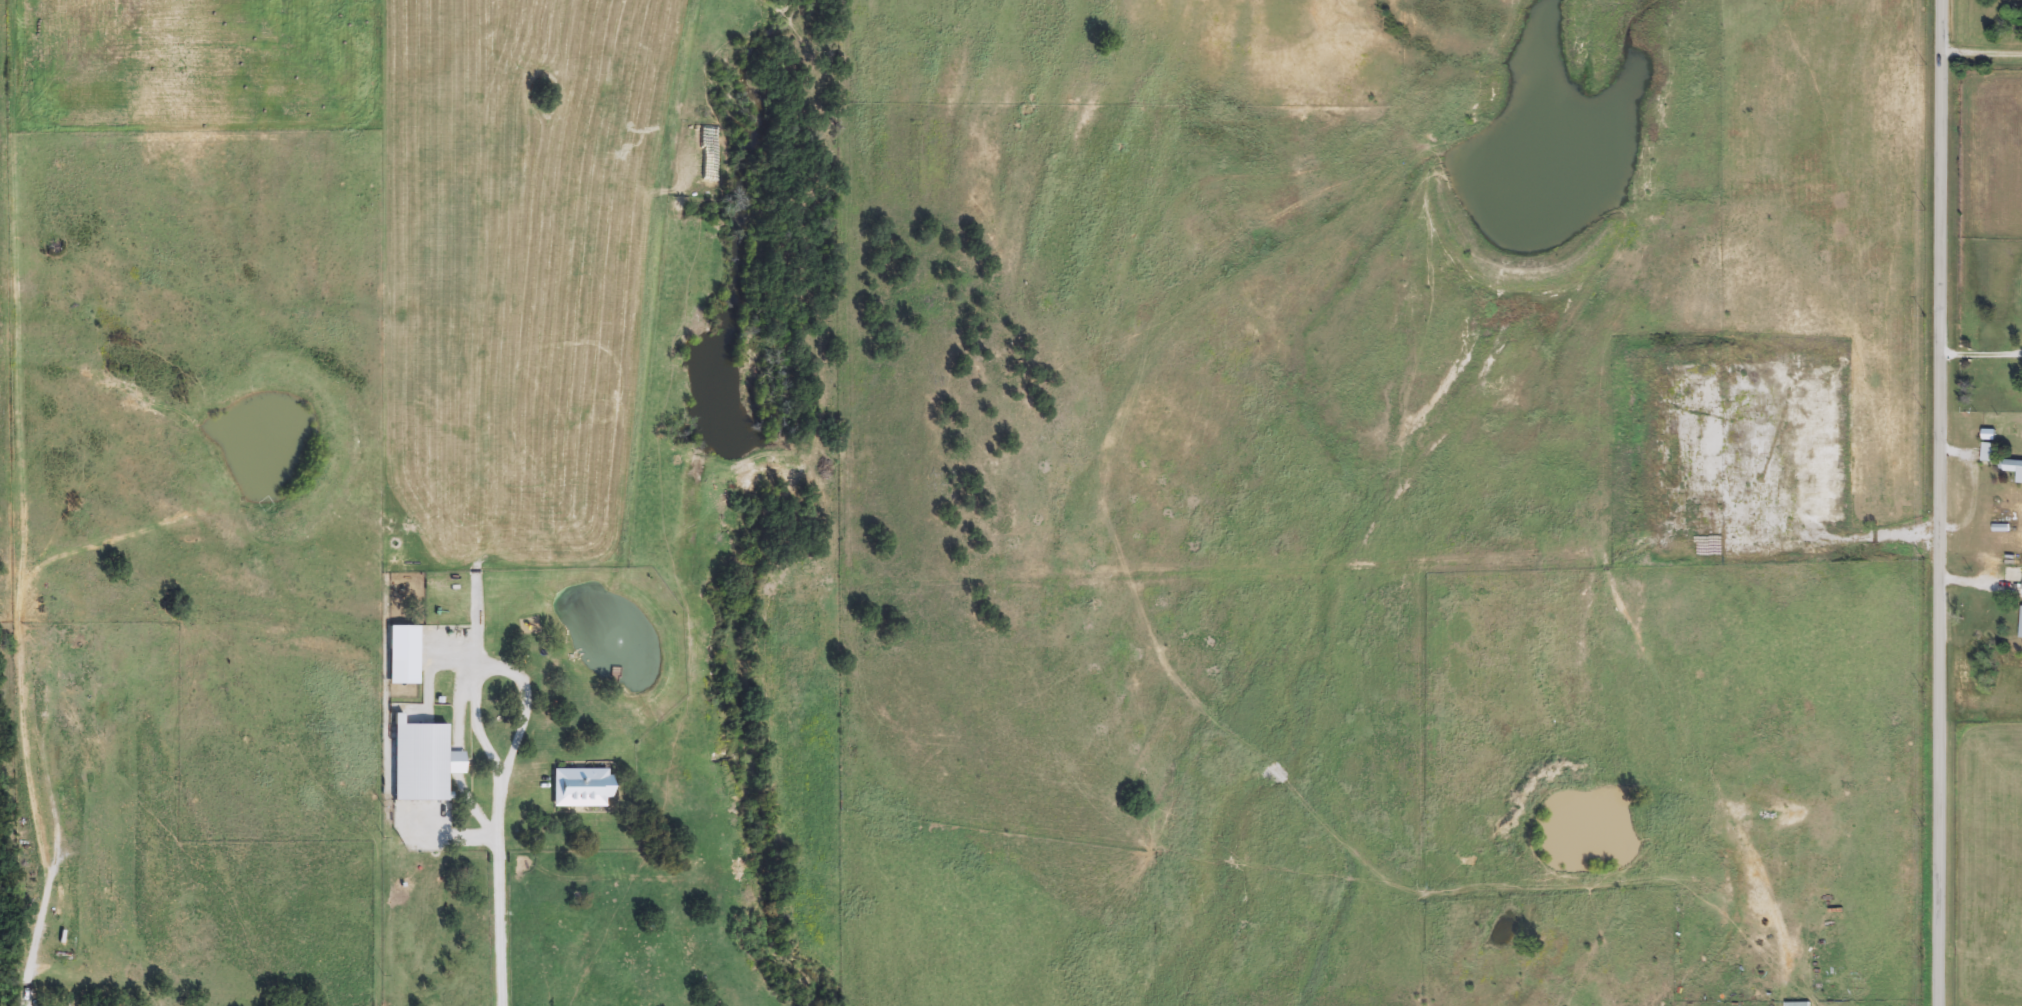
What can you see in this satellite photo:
road: (1982, 50)
road: (1979, 354)
building: (1988, 453)
building: (2011, 468)
road: (1939, 502)
road: (1812, 533)
building: (2021, 623)
road: (498, 666)
road: (500, 888)
building: (1798, 1004)

